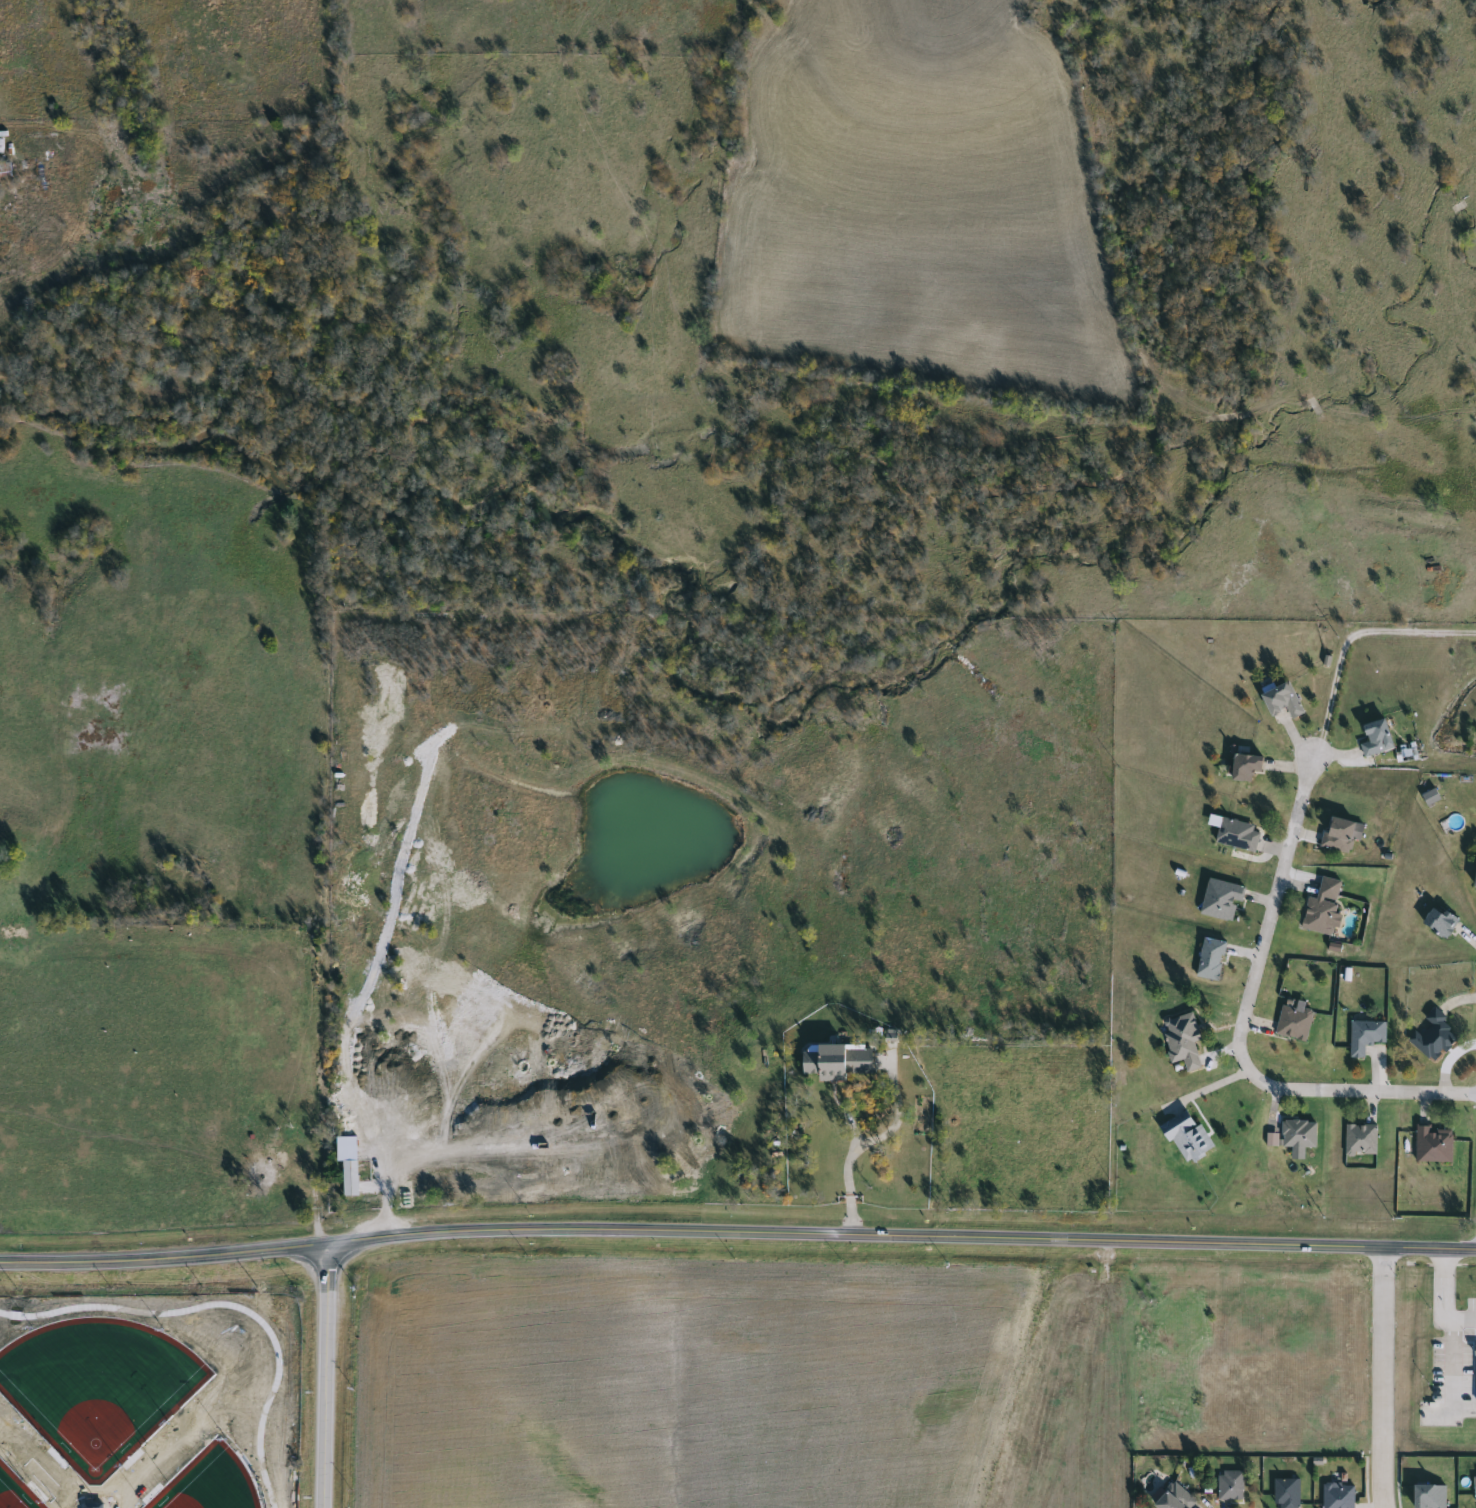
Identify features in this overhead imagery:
building: (3, 170)
building: (1280, 701)
building: (1373, 738)
building: (1243, 766)
building: (1235, 834)
building: (1336, 834)
building: (1474, 875)
building: (1219, 900)
building: (1320, 907)
building: (1438, 922)
building: (12, 938)
building: (1209, 959)
building: (1292, 1022)
road: (1240, 1027)
building: (1363, 1035)
building: (1430, 1037)
building: (1181, 1040)
building: (836, 1060)
building: (1184, 1136)
building: (1297, 1136)
building: (1359, 1139)
building: (1431, 1143)
building: (271, 1154)
road: (857, 1155)
building: (348, 1177)
road: (308, 1199)
road: (606, 1229)
road: (1344, 1247)
road: (1446, 1300)
road: (1455, 1369)
building: (1475, 1372)
road: (325, 1376)
road: (1378, 1378)
building: (1228, 1484)
building: (1474, 1486)
building: (1284, 1492)
building: (1336, 1495)
building: (1426, 1496)
building: (1172, 1498)

